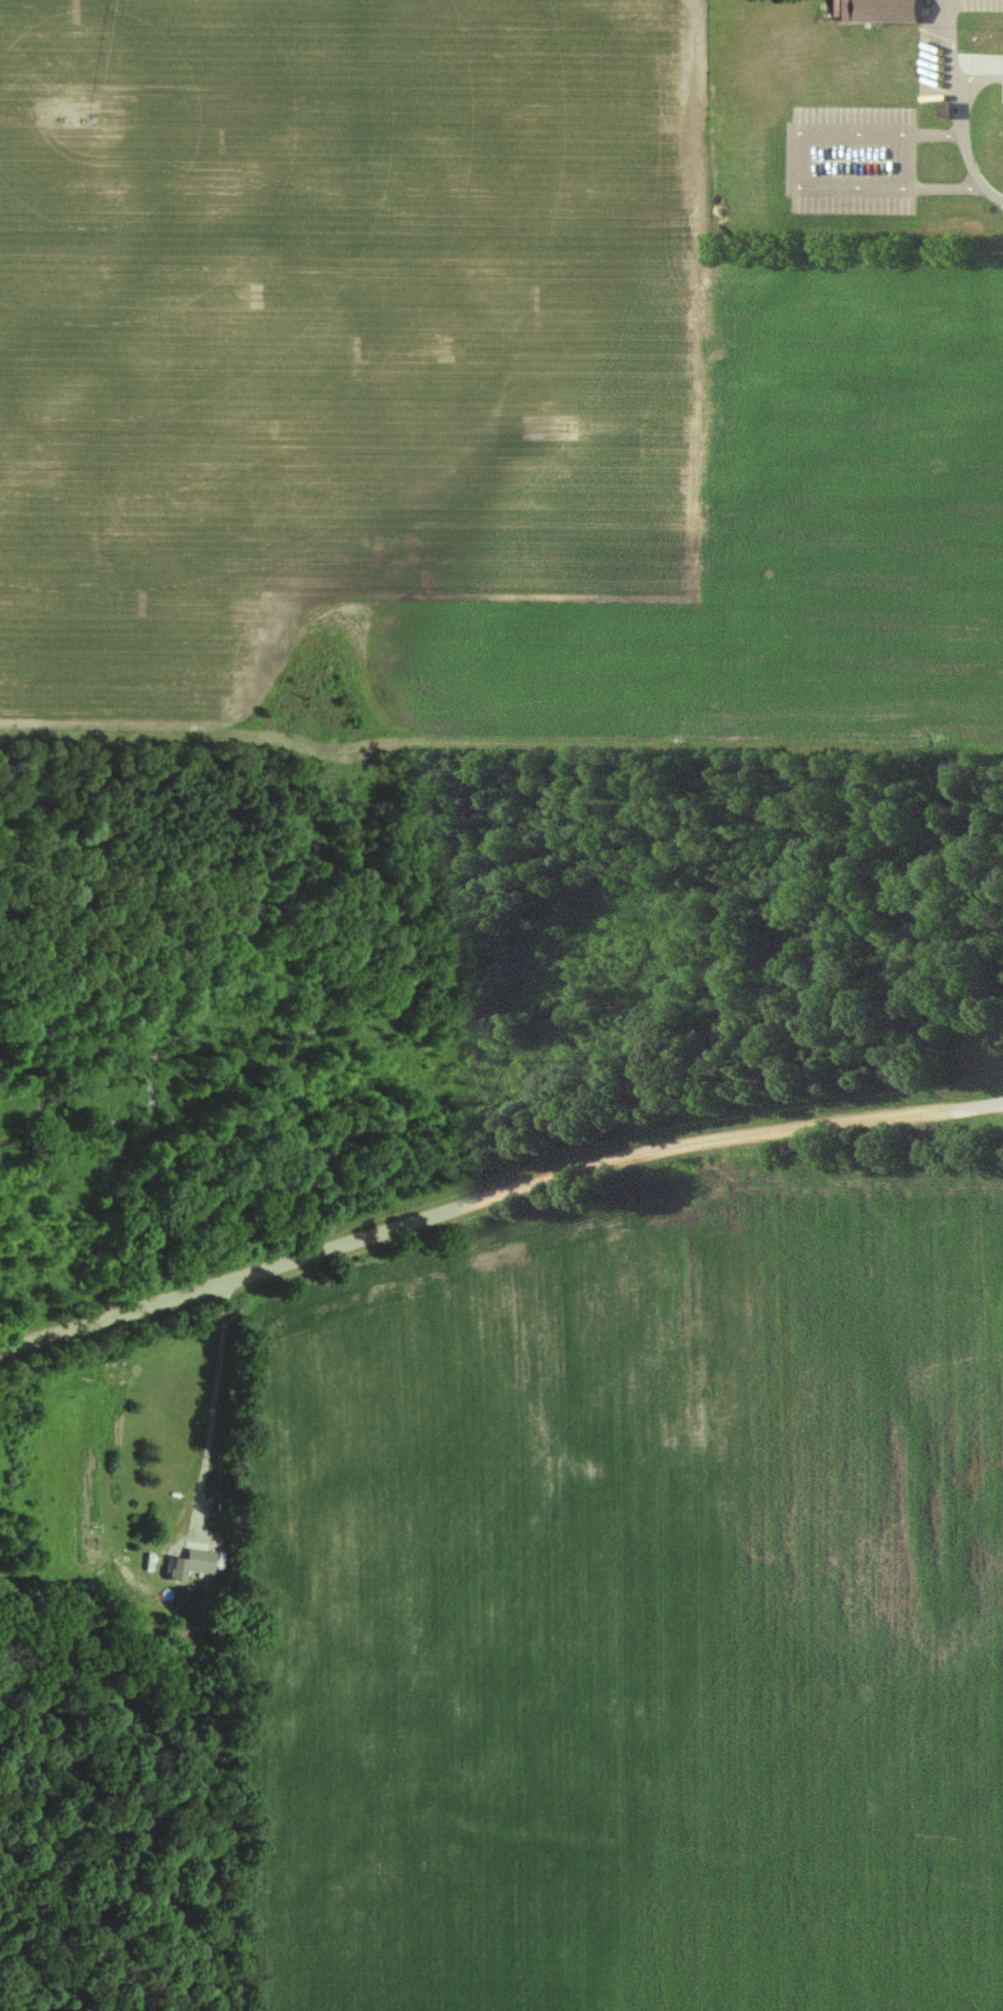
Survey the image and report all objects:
building: (876, 11)
road: (979, 76)
road: (961, 106)
building: (999, 1026)
road: (495, 1197)
road: (205, 1415)
building: (169, 1570)

